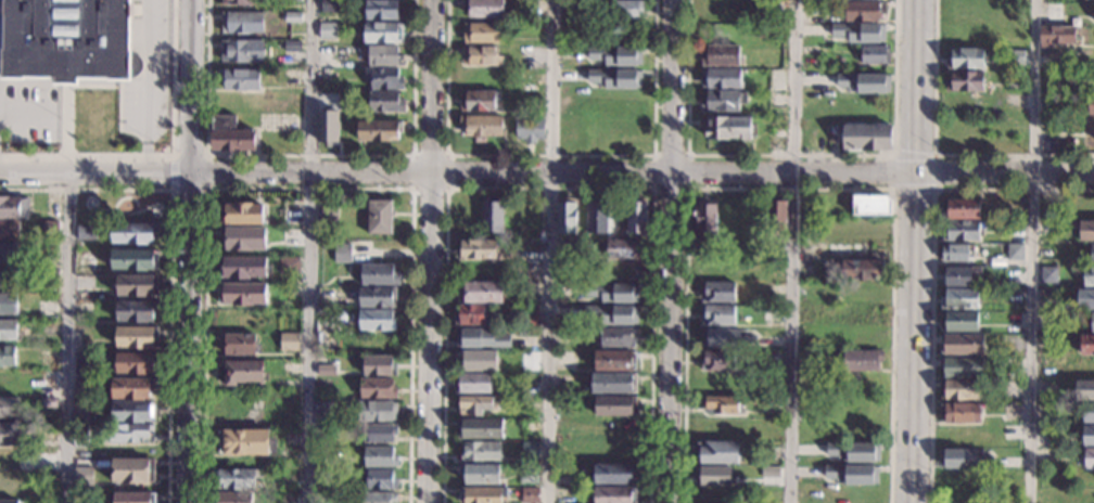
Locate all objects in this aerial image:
building: (292, 0)
building: (242, 2)
building: (330, 5)
building: (484, 8)
building: (569, 8)
building: (625, 9)
building: (382, 10)
building: (865, 10)
building: (1053, 12)
building: (1093, 17)
building: (293, 18)
building: (242, 23)
building: (328, 31)
building: (383, 33)
building: (482, 33)
building: (860, 33)
building: (1056, 36)
building: (68, 40)
building: (292, 48)
building: (242, 51)
building: (875, 54)
building: (384, 55)
building: (481, 55)
building: (721, 55)
building: (614, 56)
building: (1015, 56)
building: (966, 57)
building: (383, 78)
building: (614, 78)
building: (721, 78)
building: (239, 79)
building: (1016, 80)
building: (965, 82)
building: (864, 83)
road: (433, 85)
road: (145, 86)
building: (479, 101)
building: (385, 102)
building: (722, 102)
building: (1090, 105)
building: (482, 126)
building: (728, 127)
building: (327, 128)
building: (531, 129)
building: (380, 131)
road: (67, 133)
building: (231, 136)
building: (867, 138)
road: (162, 153)
road: (309, 153)
road: (789, 154)
road: (914, 154)
road: (937, 154)
road: (549, 155)
road: (215, 171)
road: (934, 171)
road: (762, 172)
road: (893, 172)
road: (686, 188)
road: (550, 189)
road: (789, 189)
road: (171, 190)
road: (308, 190)
road: (411, 190)
road: (914, 190)
building: (870, 205)
building: (14, 207)
building: (962, 208)
building: (776, 211)
building: (241, 214)
building: (565, 216)
building: (597, 216)
building: (379, 217)
building: (636, 217)
building: (492, 218)
building: (704, 222)
building: (329, 223)
building: (1072, 228)
building: (50, 229)
building: (10, 230)
building: (1086, 230)
building: (87, 231)
building: (962, 231)
building: (133, 233)
building: (611, 234)
building: (242, 240)
building: (479, 249)
building: (623, 249)
road: (189, 250)
road: (551, 250)
road: (792, 250)
road: (912, 250)
road: (1033, 250)
building: (49, 251)
road: (310, 251)
road: (672, 251)
building: (1014, 251)
building: (956, 253)
building: (1092, 253)
building: (8, 254)
building: (342, 254)
building: (567, 256)
building: (133, 260)
road: (170, 260)
building: (289, 266)
road: (931, 266)
building: (243, 268)
building: (861, 269)
building: (532, 270)
building: (1048, 274)
building: (379, 275)
building: (1086, 275)
building: (962, 276)
building: (50, 278)
building: (8, 279)
building: (136, 286)
building: (532, 291)
building: (611, 291)
building: (481, 293)
building: (717, 293)
building: (241, 295)
building: (377, 297)
building: (1047, 297)
building: (1084, 298)
building: (961, 299)
building: (8, 305)
building: (136, 311)
building: (611, 313)
building: (717, 314)
building: (471, 315)
building: (772, 317)
building: (530, 319)
building: (376, 320)
building: (1087, 320)
building: (959, 321)
building: (9, 331)
building: (616, 335)
road: (66, 337)
building: (136, 337)
road: (431, 337)
building: (481, 337)
building: (728, 337)
building: (289, 343)
building: (239, 345)
building: (962, 345)
building: (1087, 345)
building: (7, 356)
building: (718, 358)
building: (48, 359)
building: (478, 359)
building: (530, 359)
building: (614, 360)
building: (861, 360)
building: (136, 363)
building: (82, 364)
building: (378, 365)
building: (962, 366)
building: (291, 367)
building: (325, 370)
building: (244, 372)
building: (614, 383)
building: (472, 384)
building: (82, 388)
building: (377, 388)
building: (131, 389)
building: (961, 389)
building: (1084, 390)
building: (50, 403)
building: (475, 404)
building: (722, 405)
building: (615, 407)
building: (9, 408)
building: (325, 410)
building: (82, 411)
building: (377, 411)
building: (131, 412)
building: (959, 413)
building: (1087, 413)
building: (481, 429)
building: (379, 433)
building: (129, 434)
building: (325, 434)
building: (11, 435)
building: (1089, 436)
building: (80, 437)
building: (246, 441)
building: (530, 450)
building: (855, 451)
building: (481, 452)
building: (717, 452)
building: (379, 456)
building: (963, 459)
building: (1089, 459)
building: (131, 470)
building: (852, 473)
building: (481, 474)
building: (529, 474)
building: (615, 474)
building: (82, 476)
building: (714, 476)
building: (1009, 476)
building: (234, 479)
building: (323, 479)
building: (382, 479)
building: (957, 480)
building: (482, 494)
building: (614, 494)
building: (530, 495)
building: (322, 496)
building: (135, 498)
building: (232, 498)
building: (378, 498)
building: (1087, 499)
building: (10, 502)

